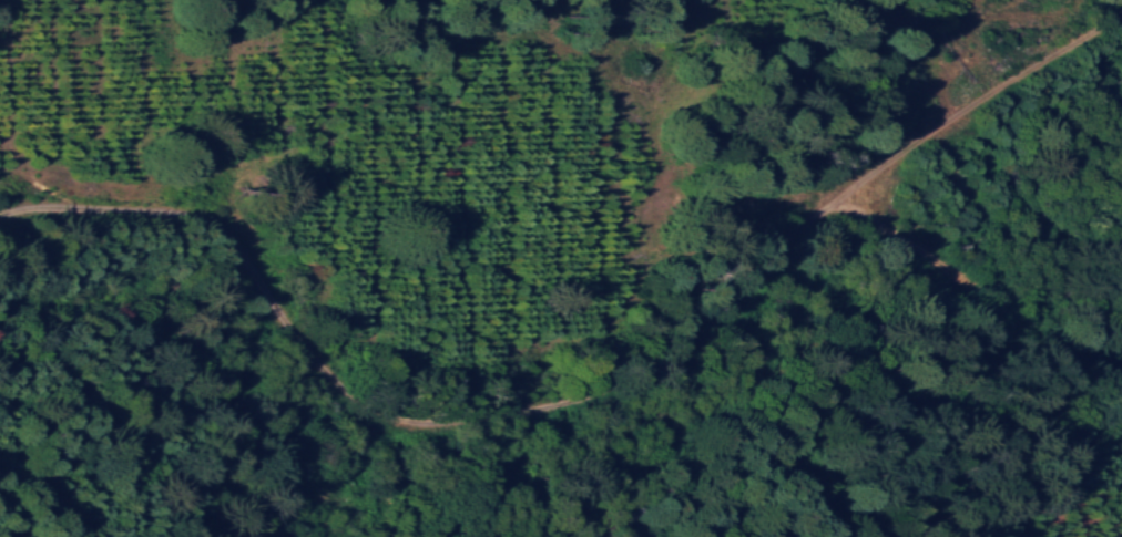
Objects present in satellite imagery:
road: (577, 380)

